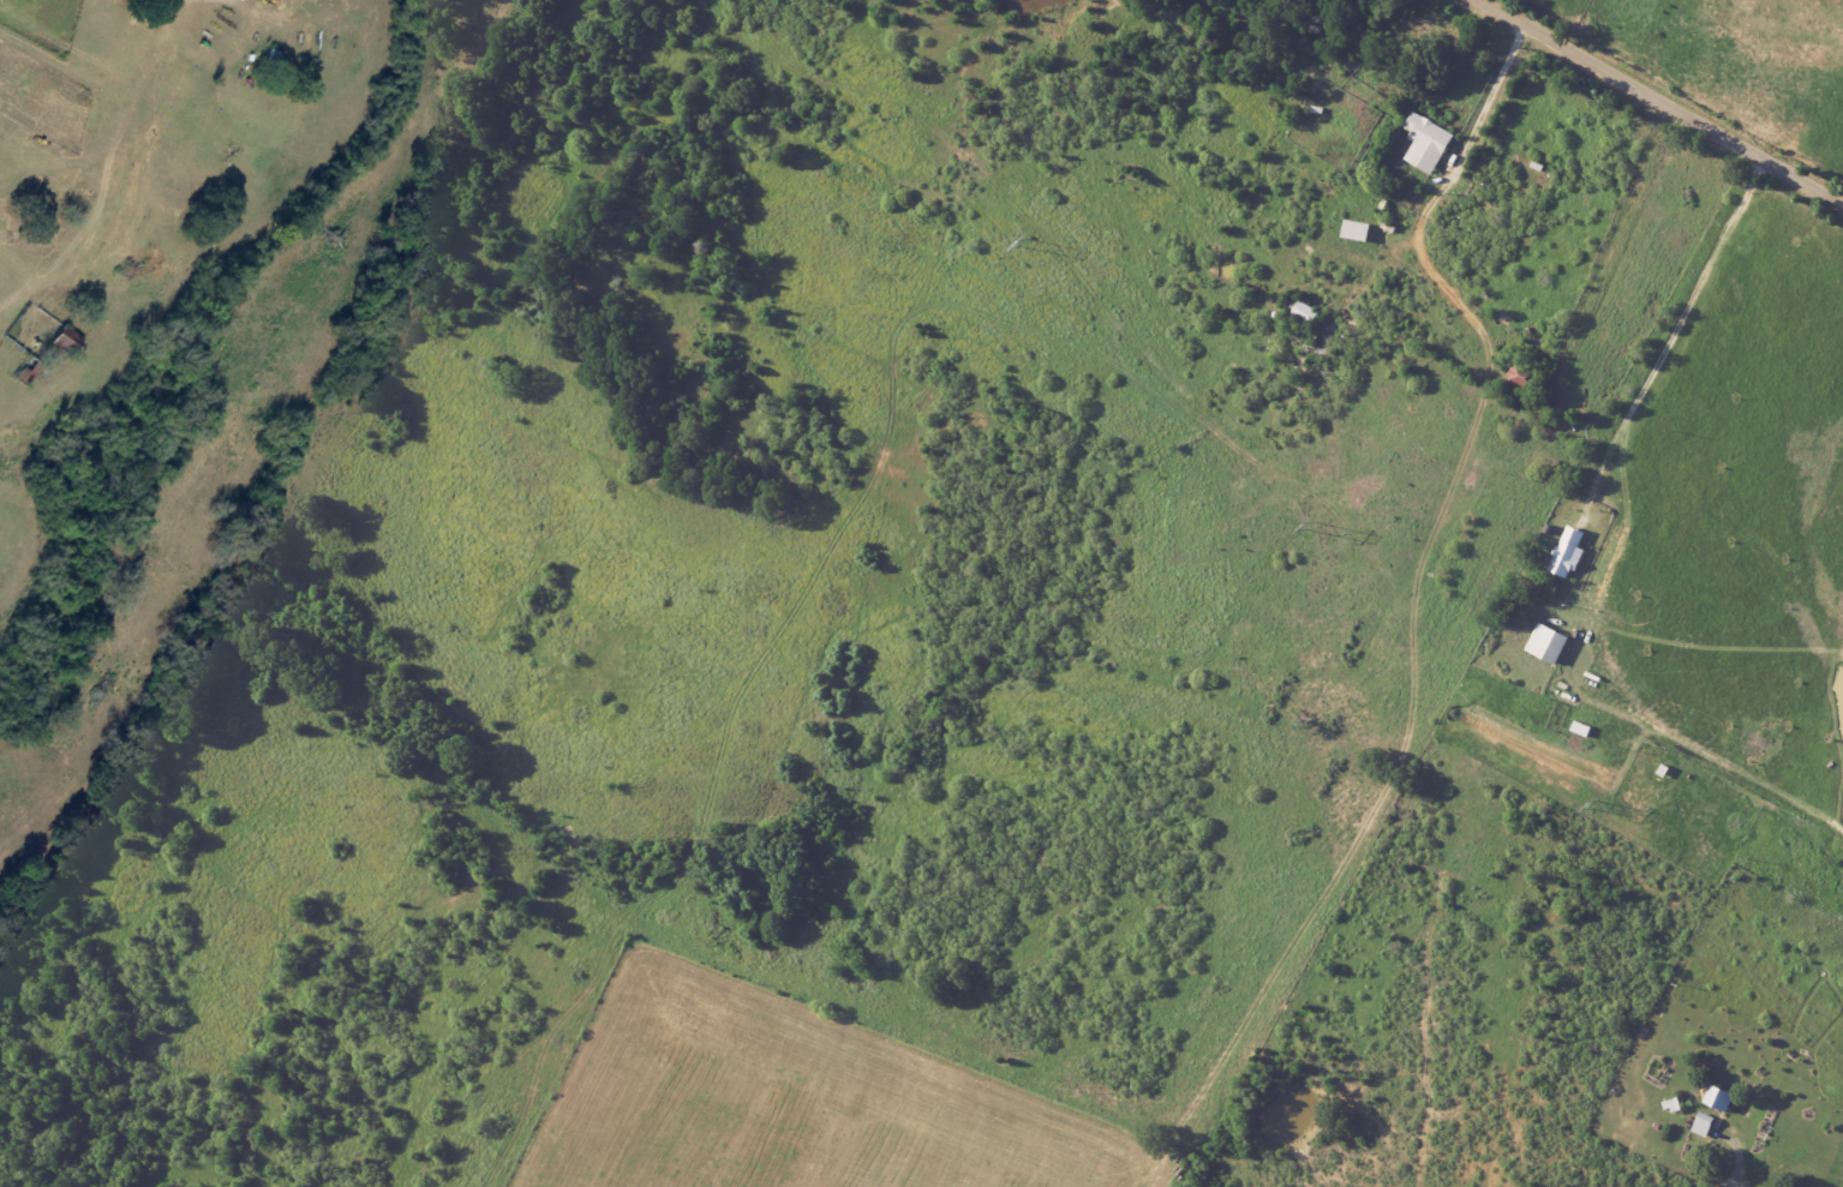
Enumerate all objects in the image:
road: (1659, 102)
building: (1428, 143)
road: (1436, 208)
power tower: (1023, 242)
road: (1679, 332)
power tower: (1310, 527)
building: (1570, 553)
building: (1550, 643)
road: (1742, 775)
power tower: (1591, 805)
building: (1722, 1097)
building: (1705, 1125)
road: (1749, 1185)

